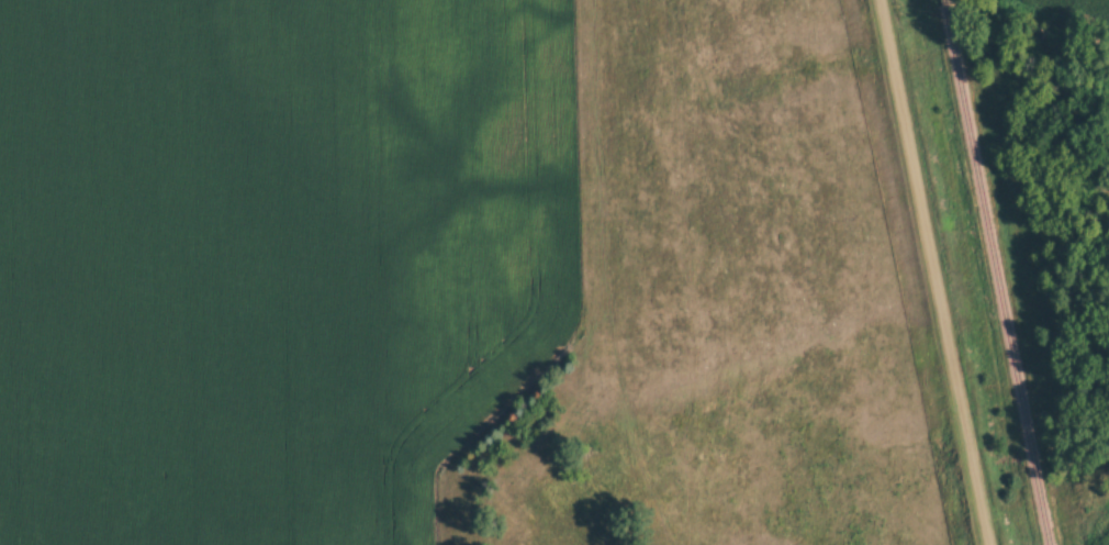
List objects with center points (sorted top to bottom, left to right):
railway: (943, 2)
road: (936, 271)
railway: (997, 275)

